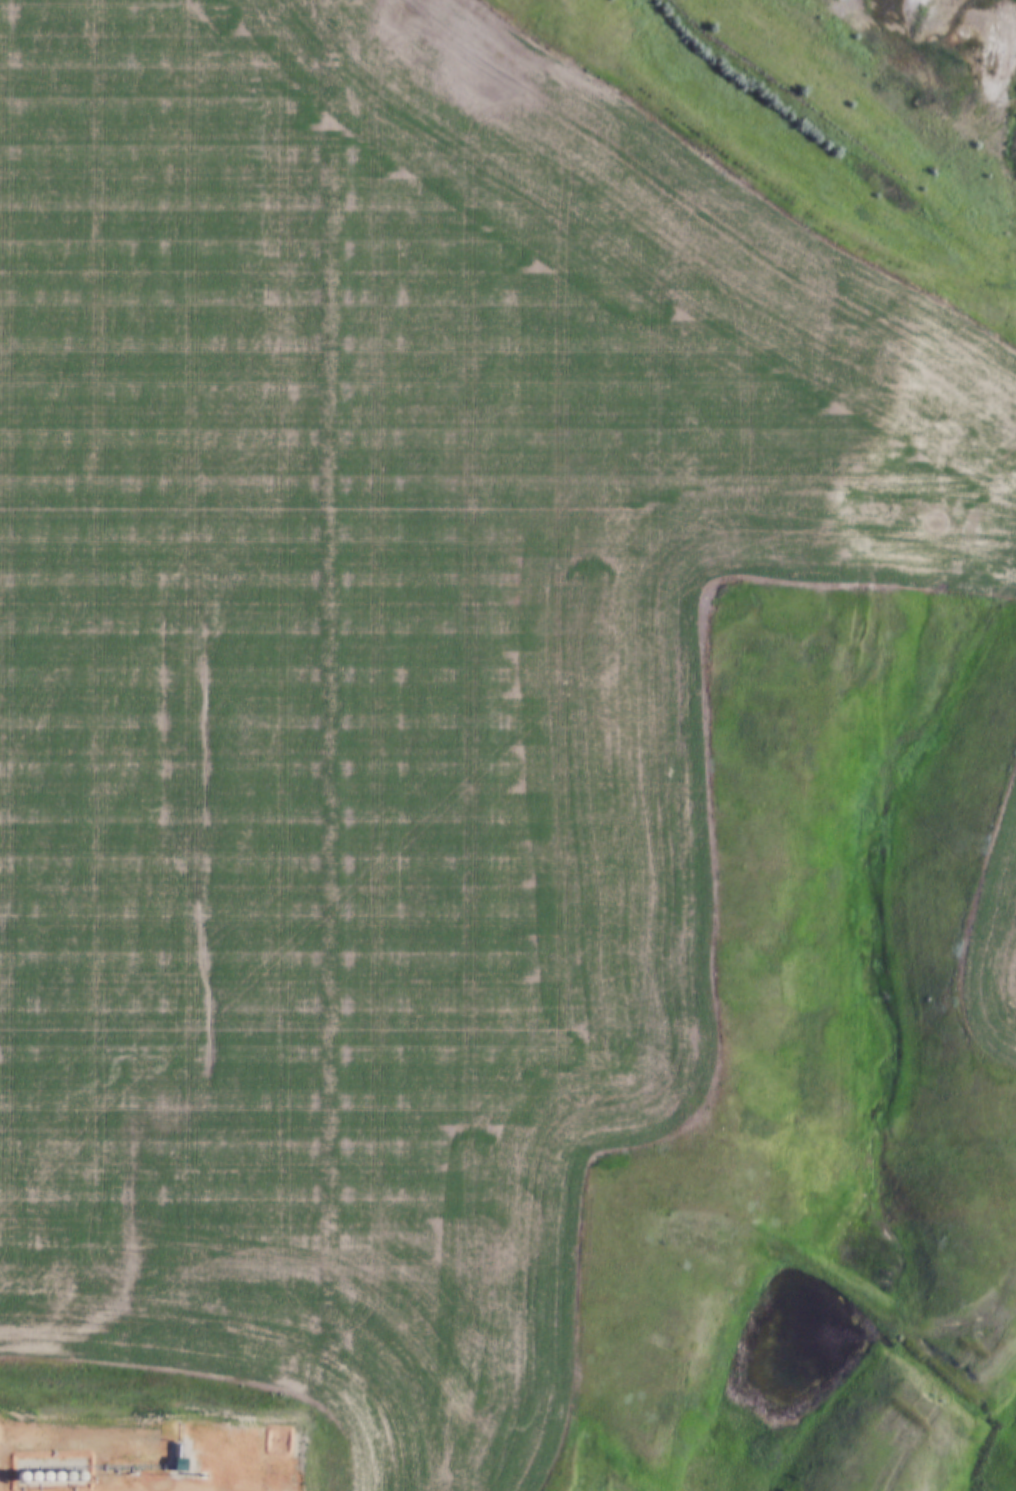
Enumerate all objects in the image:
quarry: (888, 92)

